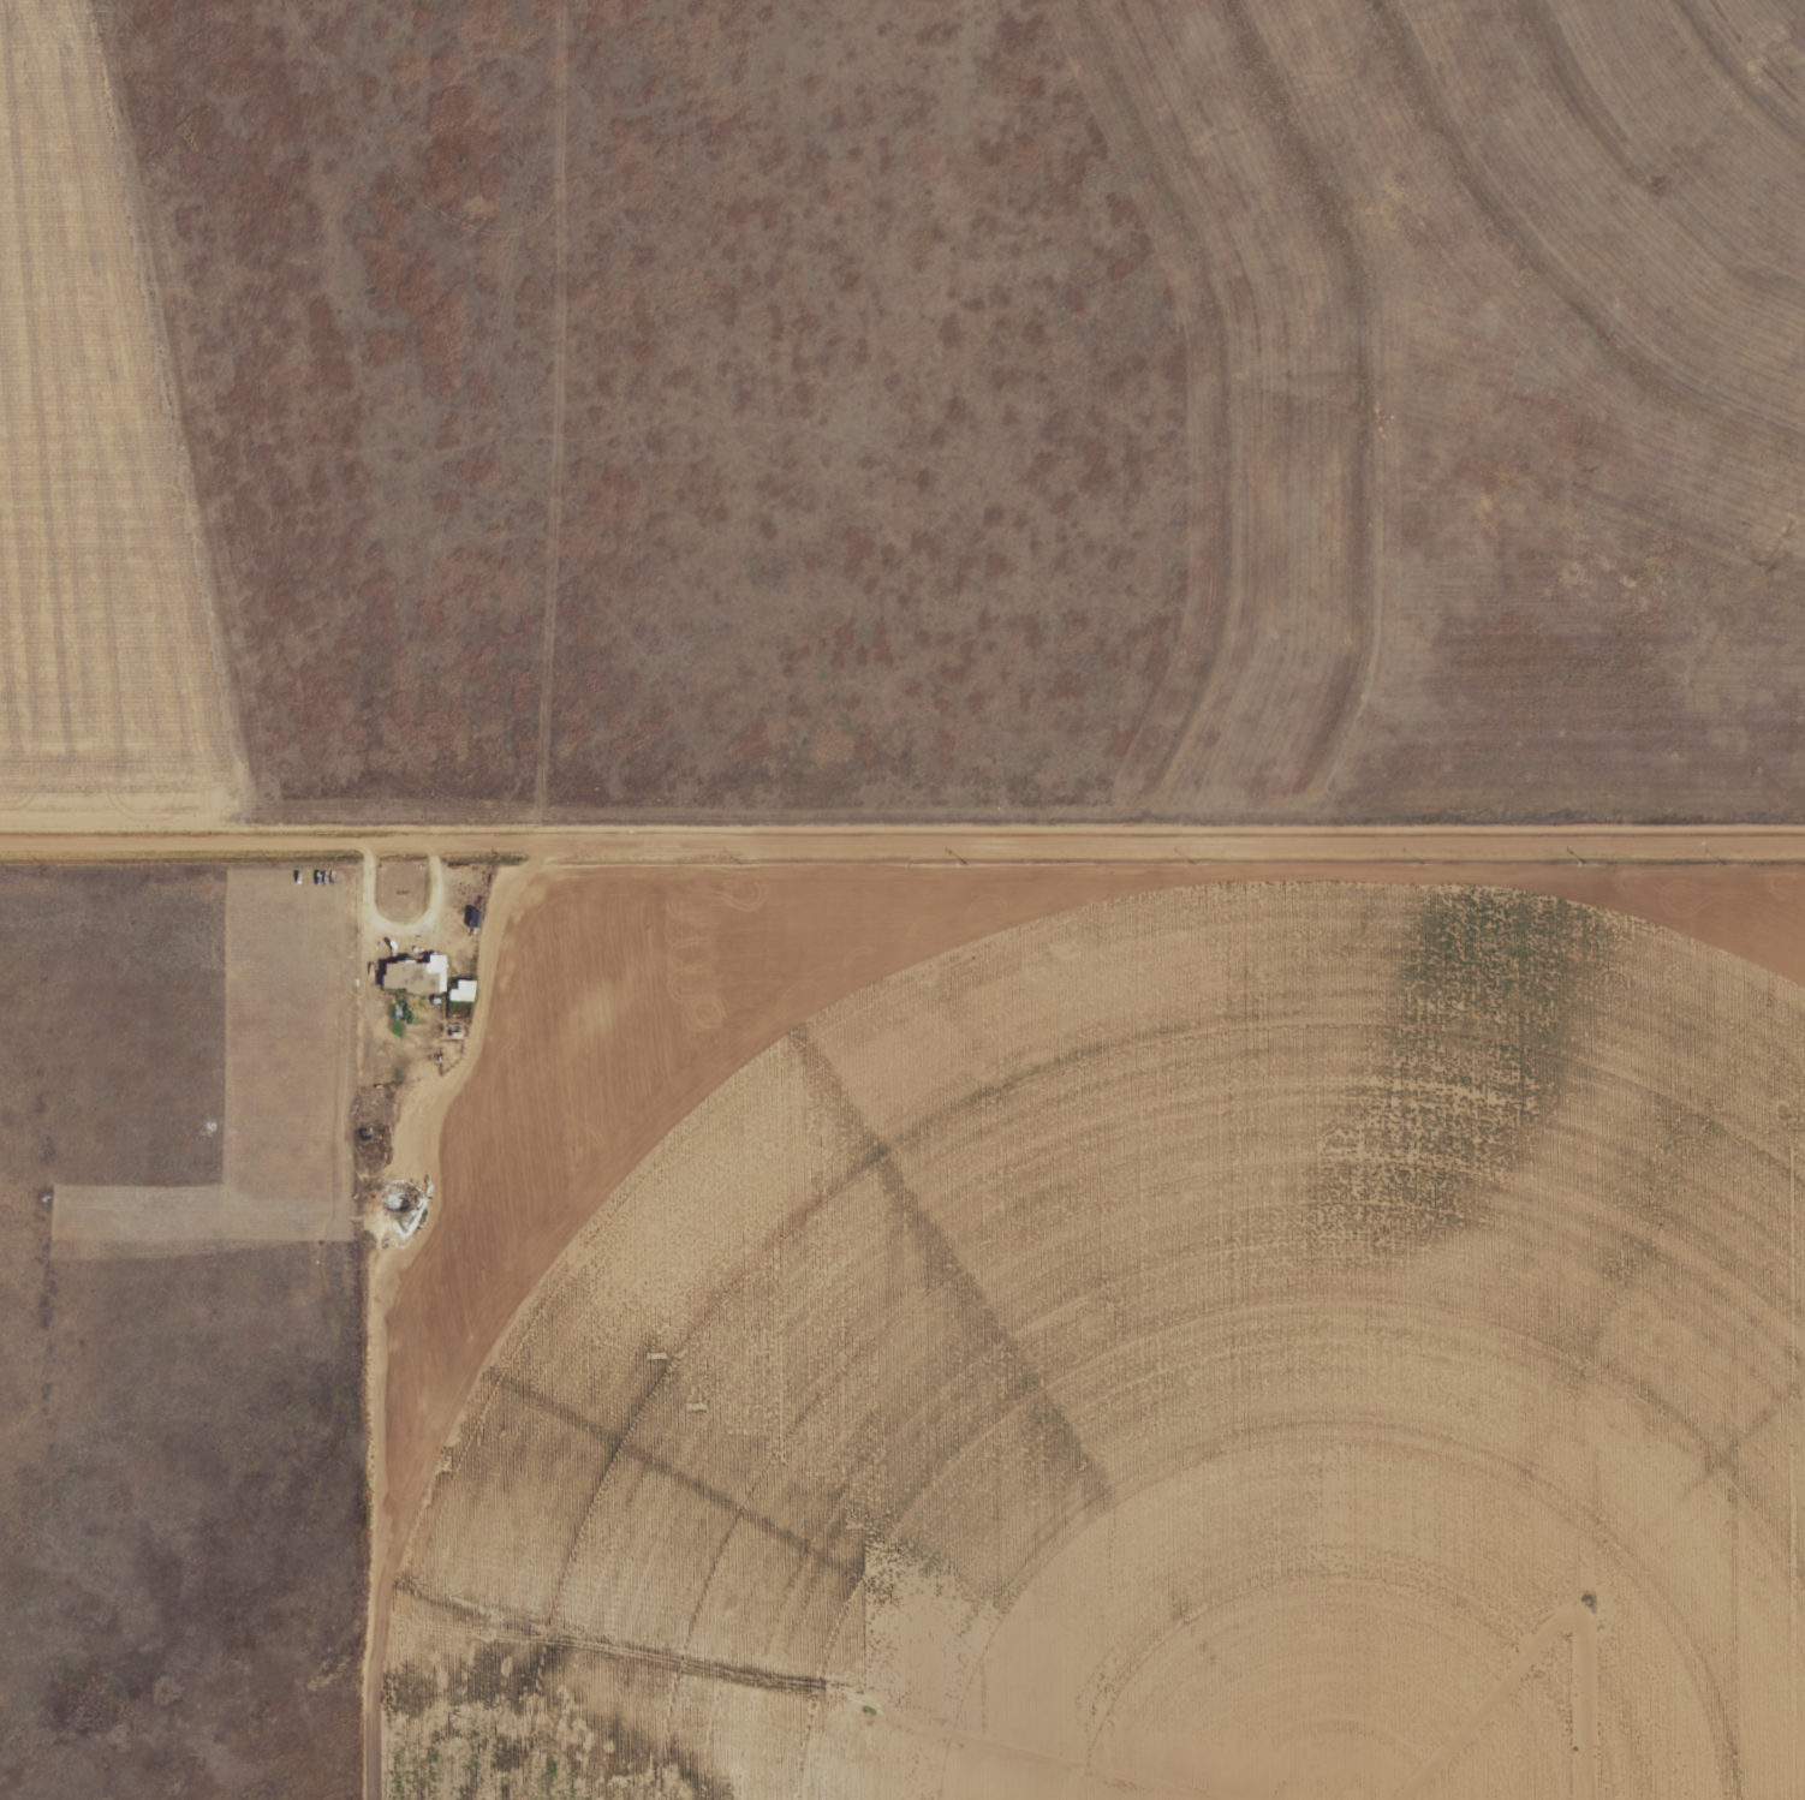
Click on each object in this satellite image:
road: (901, 864)
building: (413, 976)
building: (463, 990)
road: (1586, 1246)

